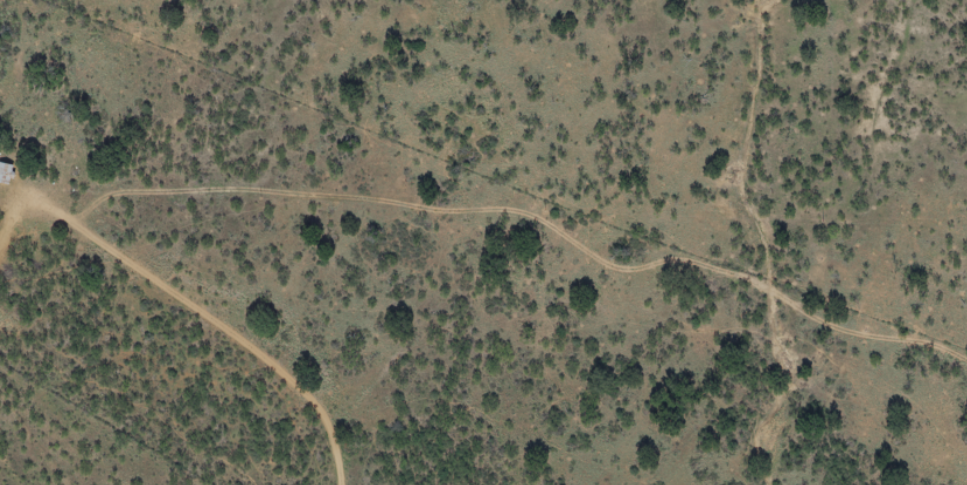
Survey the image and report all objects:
building: (7, 173)
road: (197, 327)

